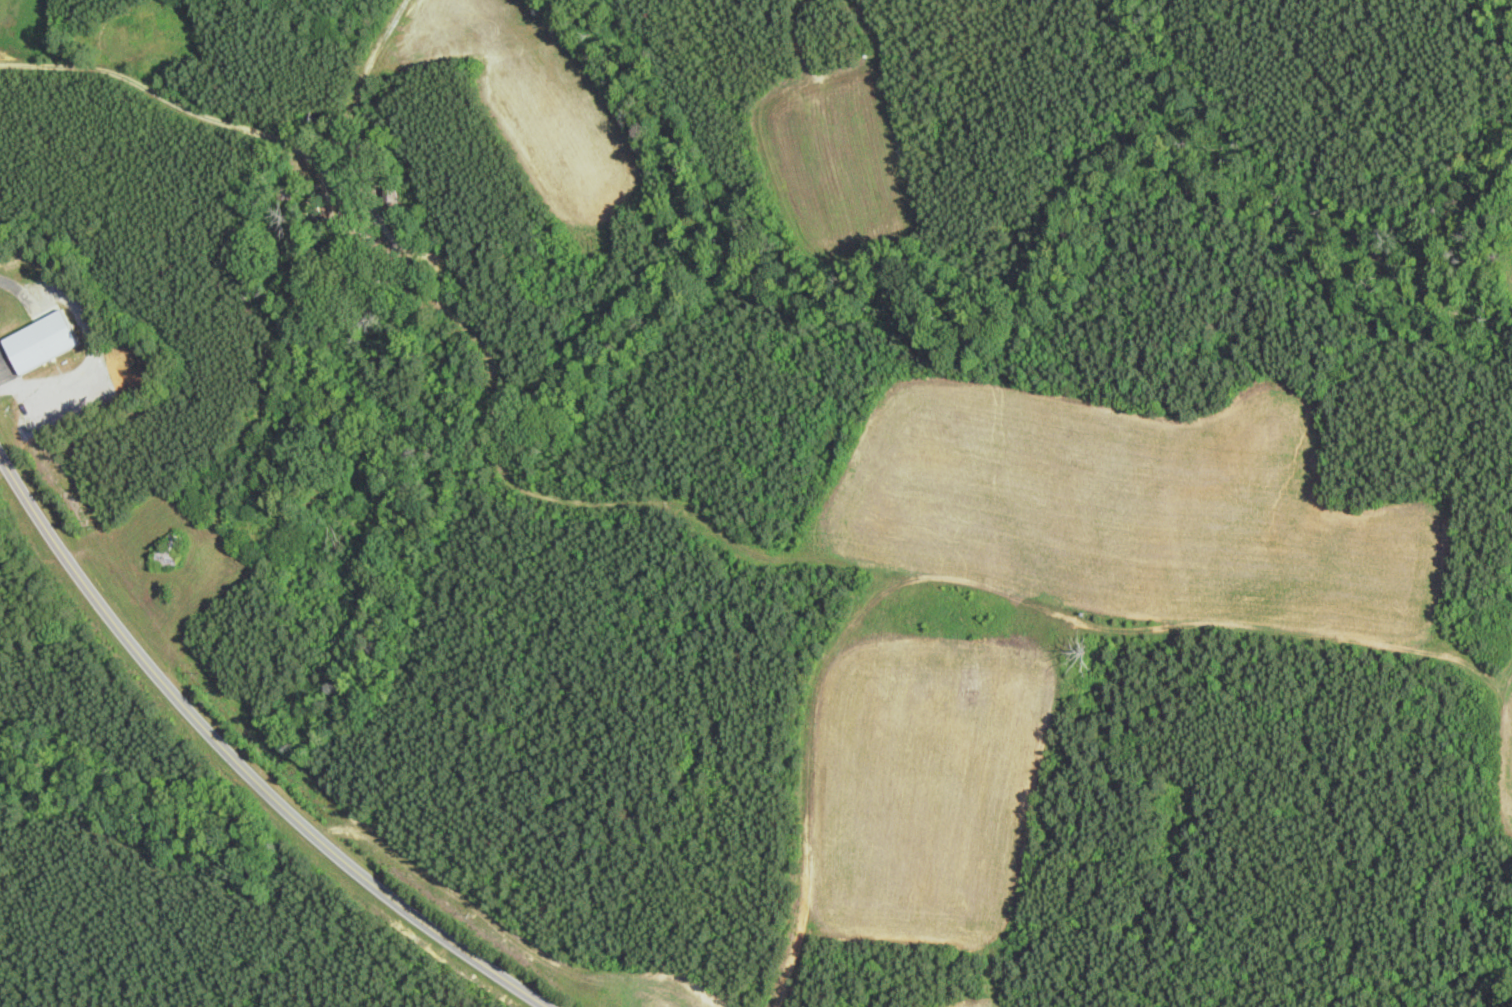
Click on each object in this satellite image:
road: (175, 102)
building: (314, 116)
building: (29, 347)
building: (167, 553)
road: (237, 764)

